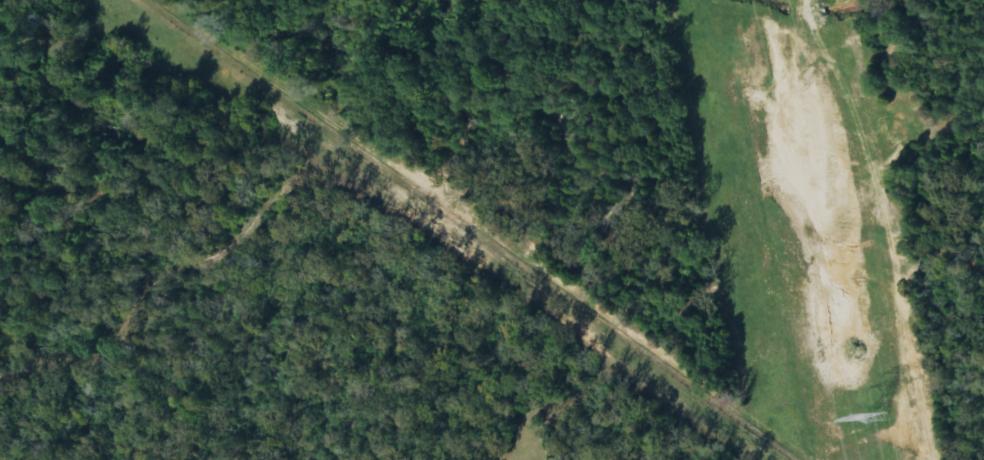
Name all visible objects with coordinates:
power tower: (876, 418)

